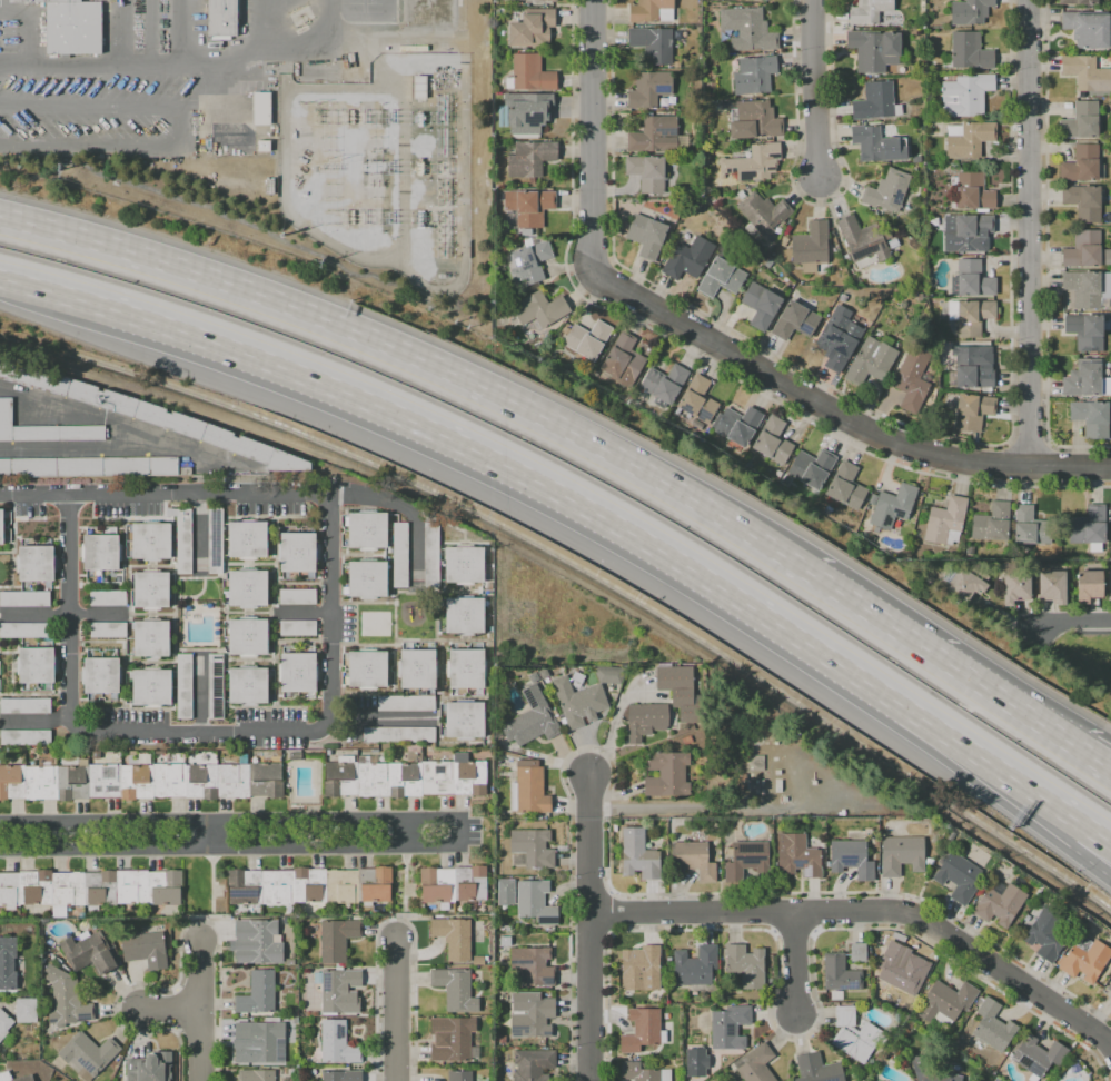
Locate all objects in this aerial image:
building: (548, 0)
building: (763, 0)
building: (1078, 2)
building: (647, 10)
building: (970, 11)
building: (871, 12)
building: (222, 18)
building: (71, 26)
road: (268, 26)
building: (532, 28)
building: (747, 29)
building: (1088, 29)
road: (121, 33)
road: (147, 33)
road: (186, 33)
building: (651, 42)
road: (289, 49)
building: (874, 50)
building: (970, 51)
road: (103, 66)
building: (530, 72)
building: (1085, 73)
building: (754, 75)
road: (815, 87)
building: (649, 89)
building: (966, 93)
building: (873, 100)
power tower: (313, 106)
building: (261, 108)
building: (527, 111)
building: (756, 119)
building: (1081, 121)
road: (180, 128)
road: (594, 135)
building: (654, 135)
building: (968, 138)
building: (876, 143)
building: (264, 146)
building: (530, 159)
building: (753, 161)
power tower: (337, 162)
building: (1081, 163)
power substation: (387, 169)
building: (647, 171)
building: (269, 187)
building: (887, 190)
building: (972, 191)
building: (1082, 201)
building: (528, 206)
building: (763, 214)
building: (968, 232)
road: (1028, 232)
building: (646, 236)
building: (862, 239)
building: (811, 244)
building: (1082, 249)
building: (687, 258)
building: (529, 262)
building: (720, 277)
building: (971, 278)
building: (1088, 288)
road: (57, 292)
building: (760, 305)
building: (539, 308)
building: (973, 316)
building: (794, 321)
building: (1085, 330)
building: (839, 338)
building: (587, 339)
building: (623, 356)
road: (419, 359)
building: (871, 360)
building: (972, 370)
building: (912, 377)
building: (1081, 380)
building: (664, 383)
building: (698, 403)
road: (72, 406)
building: (972, 410)
road: (837, 411)
building: (152, 416)
building: (1090, 417)
building: (738, 424)
building: (43, 429)
building: (773, 439)
building: (91, 466)
building: (812, 467)
building: (846, 486)
road: (239, 498)
building: (892, 506)
road: (605, 518)
building: (945, 519)
building: (992, 523)
building: (1, 526)
building: (1030, 526)
building: (1089, 526)
building: (367, 529)
road: (200, 537)
building: (246, 539)
building: (150, 540)
building: (215, 540)
building: (182, 542)
building: (100, 552)
building: (297, 552)
building: (431, 554)
building: (399, 555)
building: (34, 563)
road: (276, 564)
road: (148, 565)
building: (465, 565)
road: (199, 577)
building: (368, 578)
road: (306, 582)
building: (968, 584)
building: (1088, 585)
building: (1110, 585)
building: (1052, 586)
building: (1015, 587)
road: (129, 588)
building: (247, 588)
building: (150, 589)
road: (197, 595)
building: (297, 596)
building: (106, 597)
building: (24, 598)
road: (176, 612)
road: (306, 612)
road: (38, 613)
road: (100, 613)
road: (151, 613)
road: (73, 614)
road: (335, 614)
building: (464, 615)
road: (1069, 627)
building: (297, 628)
building: (24, 629)
building: (107, 629)
building: (247, 636)
building: (150, 638)
road: (305, 638)
road: (198, 648)
road: (935, 656)
road: (245, 658)
road: (276, 659)
road: (126, 661)
building: (36, 665)
park: (1085, 665)
building: (367, 668)
building: (417, 668)
building: (466, 668)
building: (298, 673)
building: (609, 674)
building: (100, 675)
building: (247, 685)
building: (182, 686)
building: (215, 686)
building: (151, 687)
road: (200, 687)
building: (680, 691)
building: (578, 702)
building: (405, 703)
building: (24, 705)
road: (381, 716)
building: (532, 718)
road: (38, 720)
building: (464, 720)
road: (614, 720)
building: (645, 720)
road: (198, 727)
building: (397, 734)
road: (1088, 734)
building: (24, 737)
building: (295, 755)
road: (1087, 755)
building: (756, 763)
building: (667, 774)
building: (405, 777)
building: (141, 781)
building: (529, 789)
road: (687, 807)
road: (239, 820)
road: (1084, 825)
road: (1062, 827)
road: (406, 832)
road: (212, 834)
building: (533, 846)
road: (236, 847)
building: (638, 854)
building: (901, 854)
building: (798, 855)
building: (852, 857)
building: (694, 860)
building: (747, 860)
road: (1089, 863)
building: (959, 876)
building: (453, 883)
building: (309, 885)
building: (90, 886)
building: (505, 891)
building: (536, 901)
building: (1000, 904)
road: (870, 911)
building: (507, 928)
road: (588, 929)
building: (1046, 934)
building: (454, 936)
building: (337, 938)
building: (257, 941)
building: (505, 941)
building: (145, 949)
building: (857, 952)
building: (88, 953)
building: (477, 960)
building: (1085, 961)
building: (7, 963)
building: (532, 965)
building: (745, 965)
road: (798, 965)
building: (694, 966)
building: (897, 968)
building: (641, 969)
building: (840, 973)
building: (1109, 986)
building: (455, 989)
building: (339, 991)
building: (258, 993)
building: (66, 999)
building: (945, 1002)
road: (399, 1009)
building: (26, 1010)
road: (171, 1012)
road: (202, 1012)
building: (530, 1014)
building: (4, 1022)
building: (993, 1025)
building: (728, 1027)
building: (643, 1030)
building: (854, 1034)
building: (452, 1039)
building: (262, 1040)
building: (337, 1043)
building: (88, 1053)
building: (1038, 1055)
building: (533, 1064)
building: (756, 1064)
building: (149, 1068)
building: (817, 1069)
building: (643, 1072)
building: (690, 1074)
building: (256, 1075)
building: (340, 1075)
building: (459, 1075)
building: (940, 1075)
building: (26, 1077)
building: (881, 1080)

